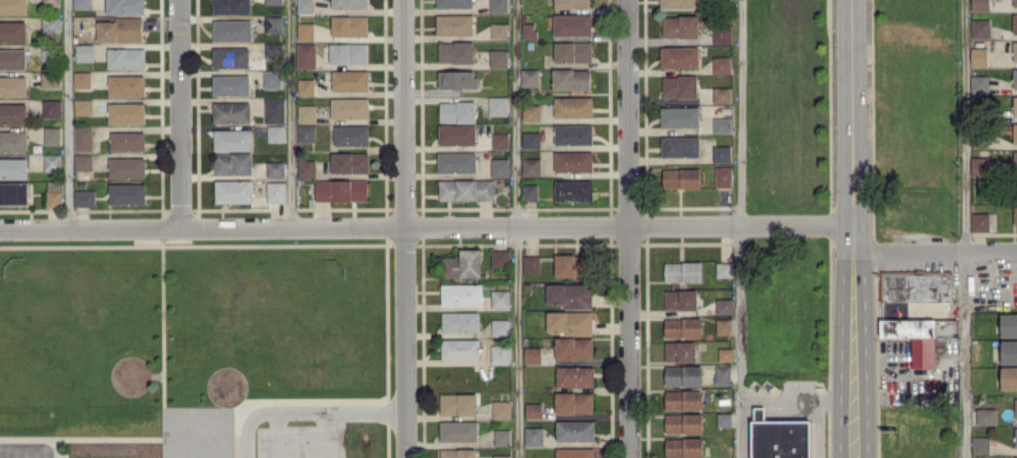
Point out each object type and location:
building: (273, 1)
building: (51, 2)
building: (454, 3)
building: (572, 3)
building: (1015, 3)
building: (82, 4)
building: (349, 4)
building: (679, 4)
building: (498, 5)
building: (980, 5)
building: (13, 6)
building: (125, 6)
building: (232, 6)
building: (305, 6)
building: (274, 23)
building: (1015, 23)
building: (51, 24)
building: (455, 24)
building: (573, 24)
building: (350, 25)
building: (680, 26)
building: (980, 28)
building: (121, 29)
building: (232, 30)
building: (499, 30)
building: (529, 30)
building: (12, 31)
building: (305, 31)
building: (722, 34)
building: (1015, 50)
building: (456, 51)
building: (573, 51)
building: (85, 52)
building: (349, 53)
building: (306, 55)
building: (679, 56)
building: (979, 56)
building: (231, 57)
building: (13, 58)
building: (126, 58)
building: (499, 58)
building: (722, 64)
building: (530, 77)
building: (272, 78)
building: (457, 78)
building: (1015, 78)
building: (50, 79)
building: (82, 79)
building: (571, 79)
building: (350, 80)
building: (979, 83)
building: (231, 84)
building: (13, 85)
building: (126, 85)
building: (306, 86)
building: (680, 86)
building: (722, 94)
building: (498, 105)
building: (1015, 105)
building: (83, 106)
building: (573, 106)
building: (350, 107)
building: (51, 108)
building: (274, 110)
building: (457, 111)
building: (126, 112)
building: (232, 112)
building: (531, 112)
building: (13, 113)
building: (307, 113)
road: (288, 114)
road: (71, 115)
road: (179, 115)
building: (680, 117)
building: (722, 124)
building: (306, 132)
building: (276, 133)
building: (1015, 133)
building: (457, 134)
building: (574, 134)
building: (52, 135)
building: (352, 135)
building: (83, 138)
building: (233, 139)
building: (531, 139)
building: (13, 140)
building: (127, 141)
building: (500, 141)
building: (680, 146)
building: (722, 153)
building: (1015, 159)
building: (573, 161)
building: (52, 162)
building: (83, 162)
building: (350, 162)
building: (457, 162)
building: (233, 163)
building: (979, 165)
building: (531, 166)
building: (127, 167)
building: (500, 167)
building: (13, 168)
building: (306, 168)
building: (275, 169)
building: (724, 176)
building: (682, 178)
building: (466, 189)
building: (341, 190)
building: (573, 190)
building: (234, 191)
building: (276, 191)
building: (530, 192)
building: (14, 193)
building: (53, 193)
building: (127, 193)
building: (84, 197)
road: (738, 200)
building: (1015, 215)
building: (980, 221)
road: (426, 228)
road: (518, 228)
road: (405, 229)
road: (629, 229)
road: (852, 229)
road: (965, 229)
road: (934, 254)
building: (500, 257)
building: (463, 264)
building: (531, 264)
building: (570, 265)
building: (724, 269)
building: (683, 271)
building: (916, 286)
road: (1014, 289)
building: (461, 294)
building: (570, 294)
building: (500, 299)
building: (681, 299)
building: (724, 305)
building: (461, 321)
building: (570, 322)
building: (1009, 324)
building: (500, 326)
building: (723, 326)
building: (683, 327)
building: (920, 336)
building: (573, 347)
building: (461, 349)
building: (680, 351)
building: (1009, 351)
building: (500, 354)
building: (532, 354)
building: (725, 354)
road: (888, 355)
building: (723, 374)
building: (683, 375)
building: (575, 376)
building: (1009, 377)
building: (684, 399)
road: (797, 400)
building: (573, 402)
building: (458, 403)
building: (1016, 408)
building: (501, 409)
building: (534, 410)
road: (306, 411)
building: (986, 416)
building: (724, 419)
building: (684, 422)
road: (741, 429)
road: (817, 429)
building: (459, 430)
building: (575, 430)
road: (276, 434)
road: (325, 434)
building: (502, 436)
building: (534, 436)
building: (781, 436)
building: (1016, 437)
building: (981, 445)
building: (684, 447)
road: (21, 450)
building: (575, 452)
building: (458, 453)
road: (43, 454)
building: (1016, 457)

